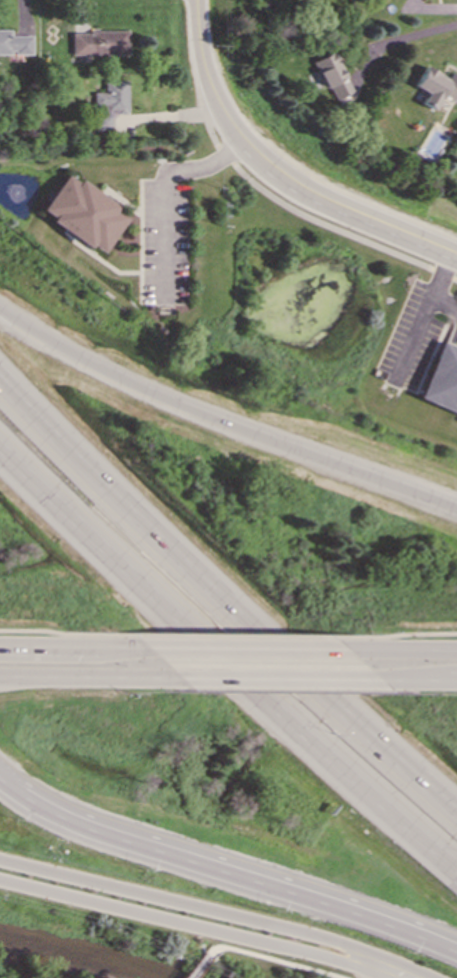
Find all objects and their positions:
road: (397, 38)
building: (14, 43)
building: (98, 43)
building: (331, 75)
building: (435, 86)
building: (108, 104)
road: (278, 170)
road: (168, 186)
building: (83, 213)
road: (308, 217)
road: (444, 302)
road: (421, 312)
building: (441, 379)
road: (222, 422)
road: (142, 522)
road: (110, 553)
road: (65, 633)
road: (391, 634)
road: (229, 636)
road: (73, 643)
road: (245, 645)
road: (401, 646)
road: (85, 676)
road: (272, 679)
road: (416, 680)
road: (375, 733)
road: (340, 762)
road: (5, 789)
road: (231, 878)
road: (205, 913)
road: (190, 921)
river: (78, 954)
road: (272, 957)
road: (194, 966)

